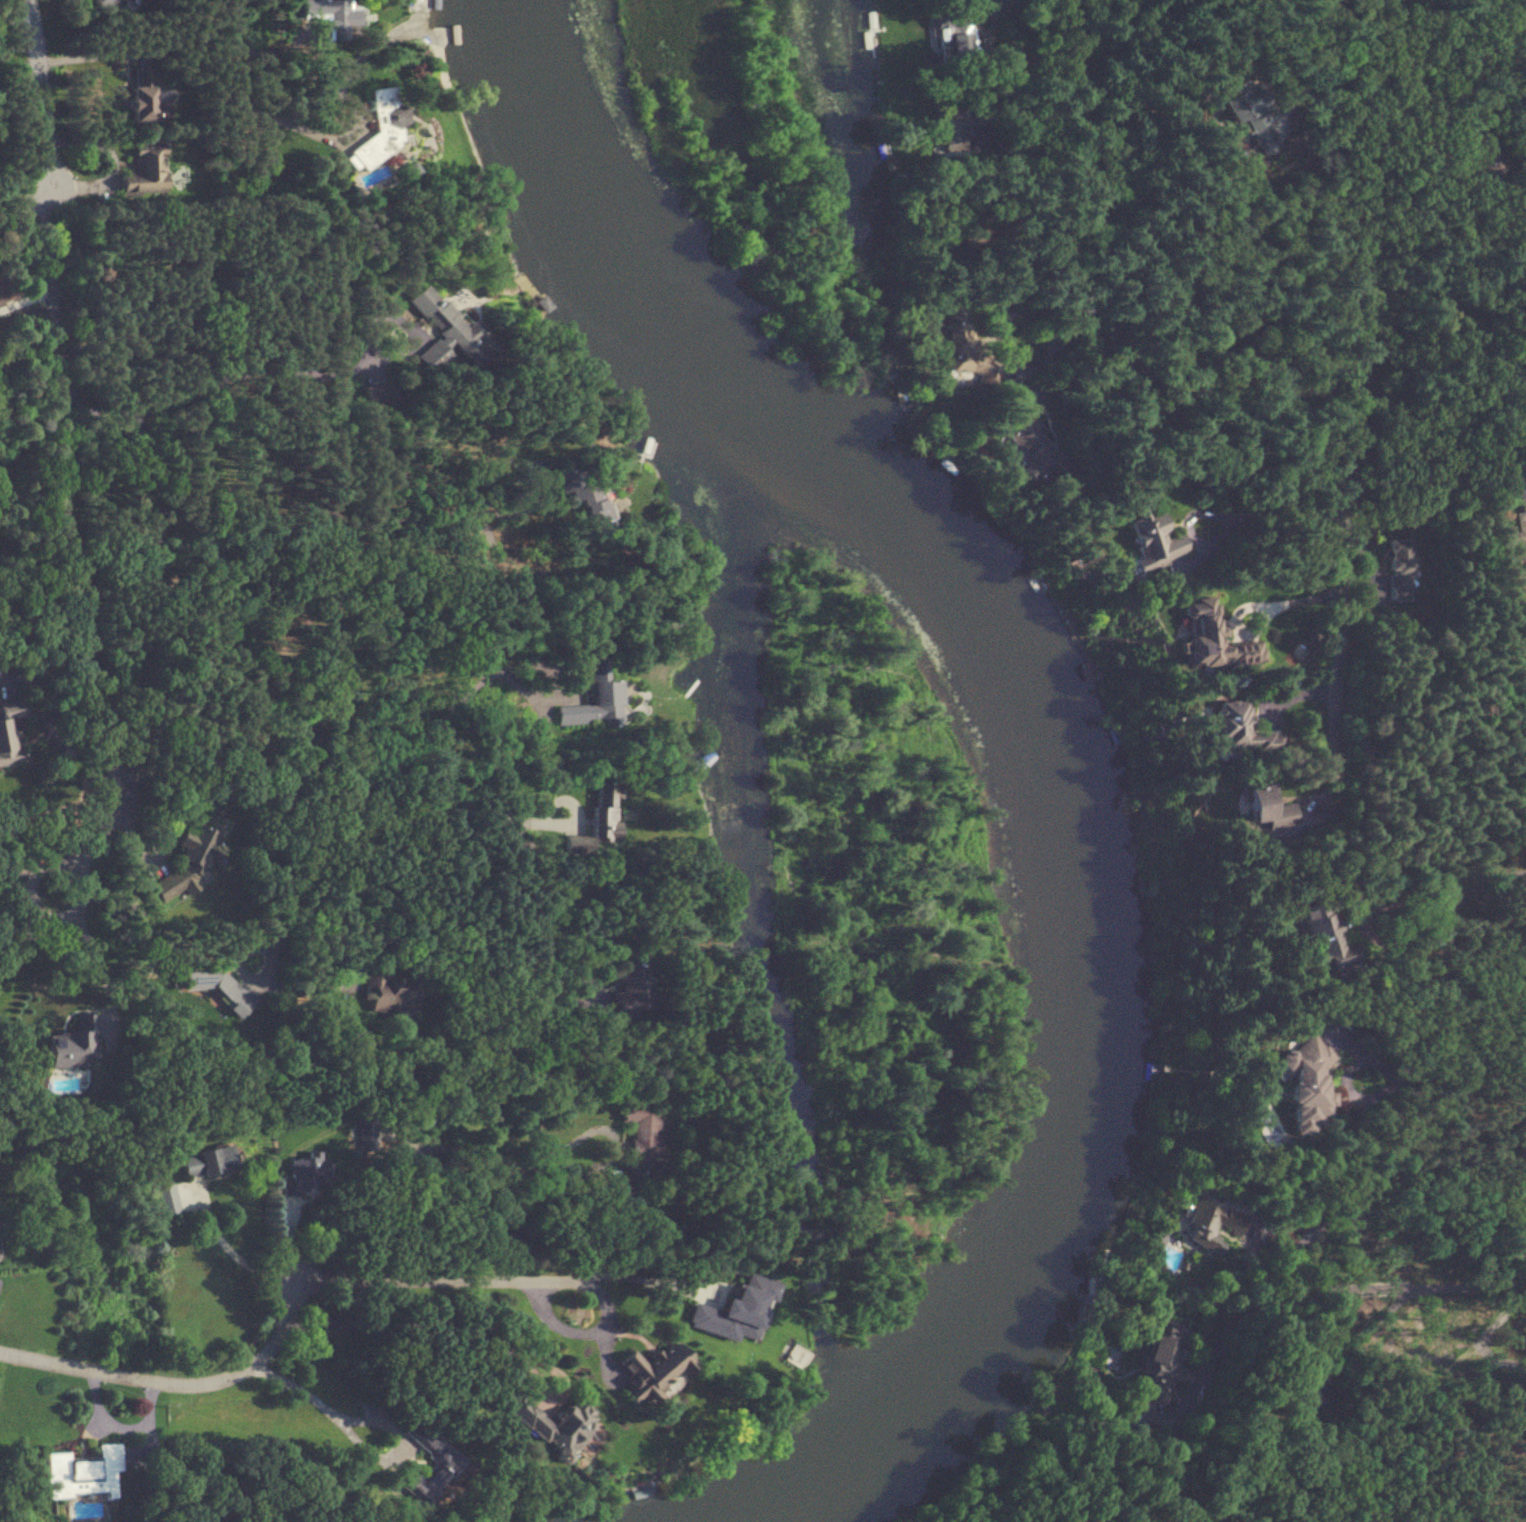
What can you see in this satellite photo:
building: (103, 3)
road: (1369, 9)
building: (332, 16)
road: (1061, 28)
building: (954, 48)
building: (145, 95)
building: (1249, 111)
road: (284, 119)
building: (378, 129)
building: (949, 138)
building: (1480, 156)
building: (145, 171)
road: (128, 180)
road: (27, 297)
building: (445, 330)
building: (963, 348)
road: (27, 350)
road: (1336, 371)
road: (255, 372)
road: (57, 408)
building: (1018, 431)
building: (582, 494)
road: (1216, 514)
building: (1520, 524)
building: (1141, 536)
road: (1339, 550)
building: (1400, 566)
road: (1249, 605)
building: (1207, 636)
road: (467, 692)
building: (595, 698)
building: (1238, 728)
building: (9, 732)
river: (1050, 733)
road: (331, 765)
building: (1267, 806)
building: (604, 820)
road: (272, 837)
building: (195, 850)
road: (83, 853)
road: (28, 877)
road: (438, 916)
road: (29, 931)
building: (1322, 937)
road: (92, 958)
building: (630, 991)
building: (387, 994)
building: (1305, 1082)
building: (771, 1084)
road: (1425, 1095)
road: (1495, 1129)
building: (637, 1144)
building: (207, 1161)
road: (399, 1162)
building: (305, 1176)
road: (1400, 1205)
building: (1211, 1223)
building: (513, 1245)
road: (233, 1252)
road: (620, 1275)
road: (423, 1277)
road: (1344, 1286)
road: (421, 1324)
road: (1493, 1340)
building: (790, 1353)
building: (1158, 1361)
building: (649, 1375)
road: (180, 1383)
road: (314, 1398)
building: (553, 1423)
building: (82, 1473)

